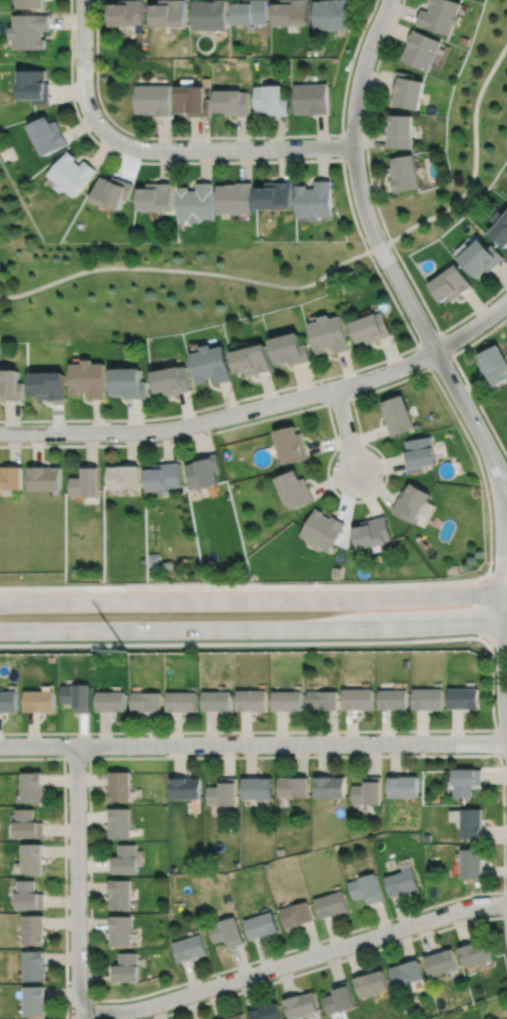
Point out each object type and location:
building: (32, 3)
building: (126, 11)
building: (250, 13)
building: (292, 13)
building: (168, 14)
building: (331, 14)
building: (209, 15)
building: (442, 16)
building: (29, 28)
building: (317, 47)
building: (422, 50)
street lamp: (376, 55)
street lamp: (93, 56)
building: (333, 59)
road: (84, 67)
building: (34, 84)
building: (408, 89)
building: (312, 97)
building: (153, 98)
building: (272, 98)
building: (192, 99)
building: (233, 100)
building: (400, 130)
building: (48, 133)
road: (232, 136)
street lamp: (173, 139)
park: (461, 140)
road: (342, 146)
road: (226, 149)
street lamp: (293, 158)
street lamp: (347, 165)
road: (475, 166)
building: (403, 171)
building: (72, 173)
building: (112, 190)
building: (276, 194)
building: (157, 195)
building: (236, 197)
building: (316, 199)
building: (197, 201)
road: (378, 211)
building: (499, 226)
road: (384, 255)
building: (479, 256)
road: (376, 268)
road: (192, 270)
street lamp: (382, 272)
park: (153, 279)
building: (449, 282)
street lamp: (492, 299)
building: (369, 326)
road: (472, 326)
road: (439, 333)
building: (328, 334)
building: (291, 349)
building: (253, 359)
building: (211, 364)
building: (494, 364)
street lamp: (433, 370)
road: (463, 376)
building: (88, 378)
building: (172, 380)
building: (129, 383)
building: (10, 385)
building: (47, 385)
street lamp: (354, 393)
road: (339, 400)
street lamp: (240, 402)
building: (396, 414)
road: (222, 417)
road: (346, 428)
street lamp: (143, 441)
street lamp: (28, 442)
building: (291, 444)
building: (418, 453)
street lamp: (333, 458)
building: (204, 471)
building: (123, 477)
building: (163, 477)
building: (10, 478)
building: (43, 478)
building: (85, 483)
building: (295, 490)
road: (505, 492)
road: (505, 494)
road: (351, 499)
building: (410, 502)
building: (321, 529)
building: (371, 532)
road: (503, 553)
building: (453, 569)
building: (336, 572)
street lamp: (479, 573)
road: (254, 586)
road: (253, 599)
road: (253, 627)
road: (497, 642)
street lamp: (494, 656)
road: (501, 668)
road: (492, 689)
building: (77, 697)
building: (356, 699)
building: (427, 699)
building: (462, 699)
building: (217, 700)
building: (391, 700)
building: (182, 701)
building: (252, 701)
building: (285, 701)
building: (321, 701)
building: (8, 702)
building: (39, 702)
building: (146, 702)
building: (111, 703)
street lamp: (489, 731)
road: (496, 741)
road: (253, 743)
street lamp: (384, 753)
street lamp: (168, 754)
street lamp: (276, 754)
road: (76, 757)
street lamp: (66, 763)
building: (465, 779)
building: (120, 784)
building: (292, 784)
building: (402, 784)
building: (31, 785)
building: (328, 785)
building: (185, 786)
building: (258, 786)
building: (366, 789)
building: (223, 791)
building: (119, 821)
building: (471, 822)
building: (27, 823)
road: (65, 856)
building: (32, 857)
building: (125, 858)
building: (471, 862)
street lamp: (68, 876)
building: (400, 880)
road: (76, 882)
street lamp: (506, 883)
building: (365, 887)
building: (120, 893)
building: (28, 894)
building: (332, 903)
road: (439, 903)
road: (504, 903)
street lamp: (425, 910)
building: (297, 913)
building: (262, 924)
building: (32, 928)
building: (120, 930)
building: (227, 931)
street lamp: (321, 942)
building: (191, 947)
building: (474, 952)
road: (339, 960)
road: (293, 961)
building: (440, 961)
building: (34, 964)
building: (126, 967)
building: (404, 972)
street lamp: (220, 974)
street lamp: (68, 982)
building: (371, 982)
building: (340, 997)
building: (33, 1000)
building: (301, 1004)
road: (91, 1009)
building: (267, 1012)
building: (236, 1017)

